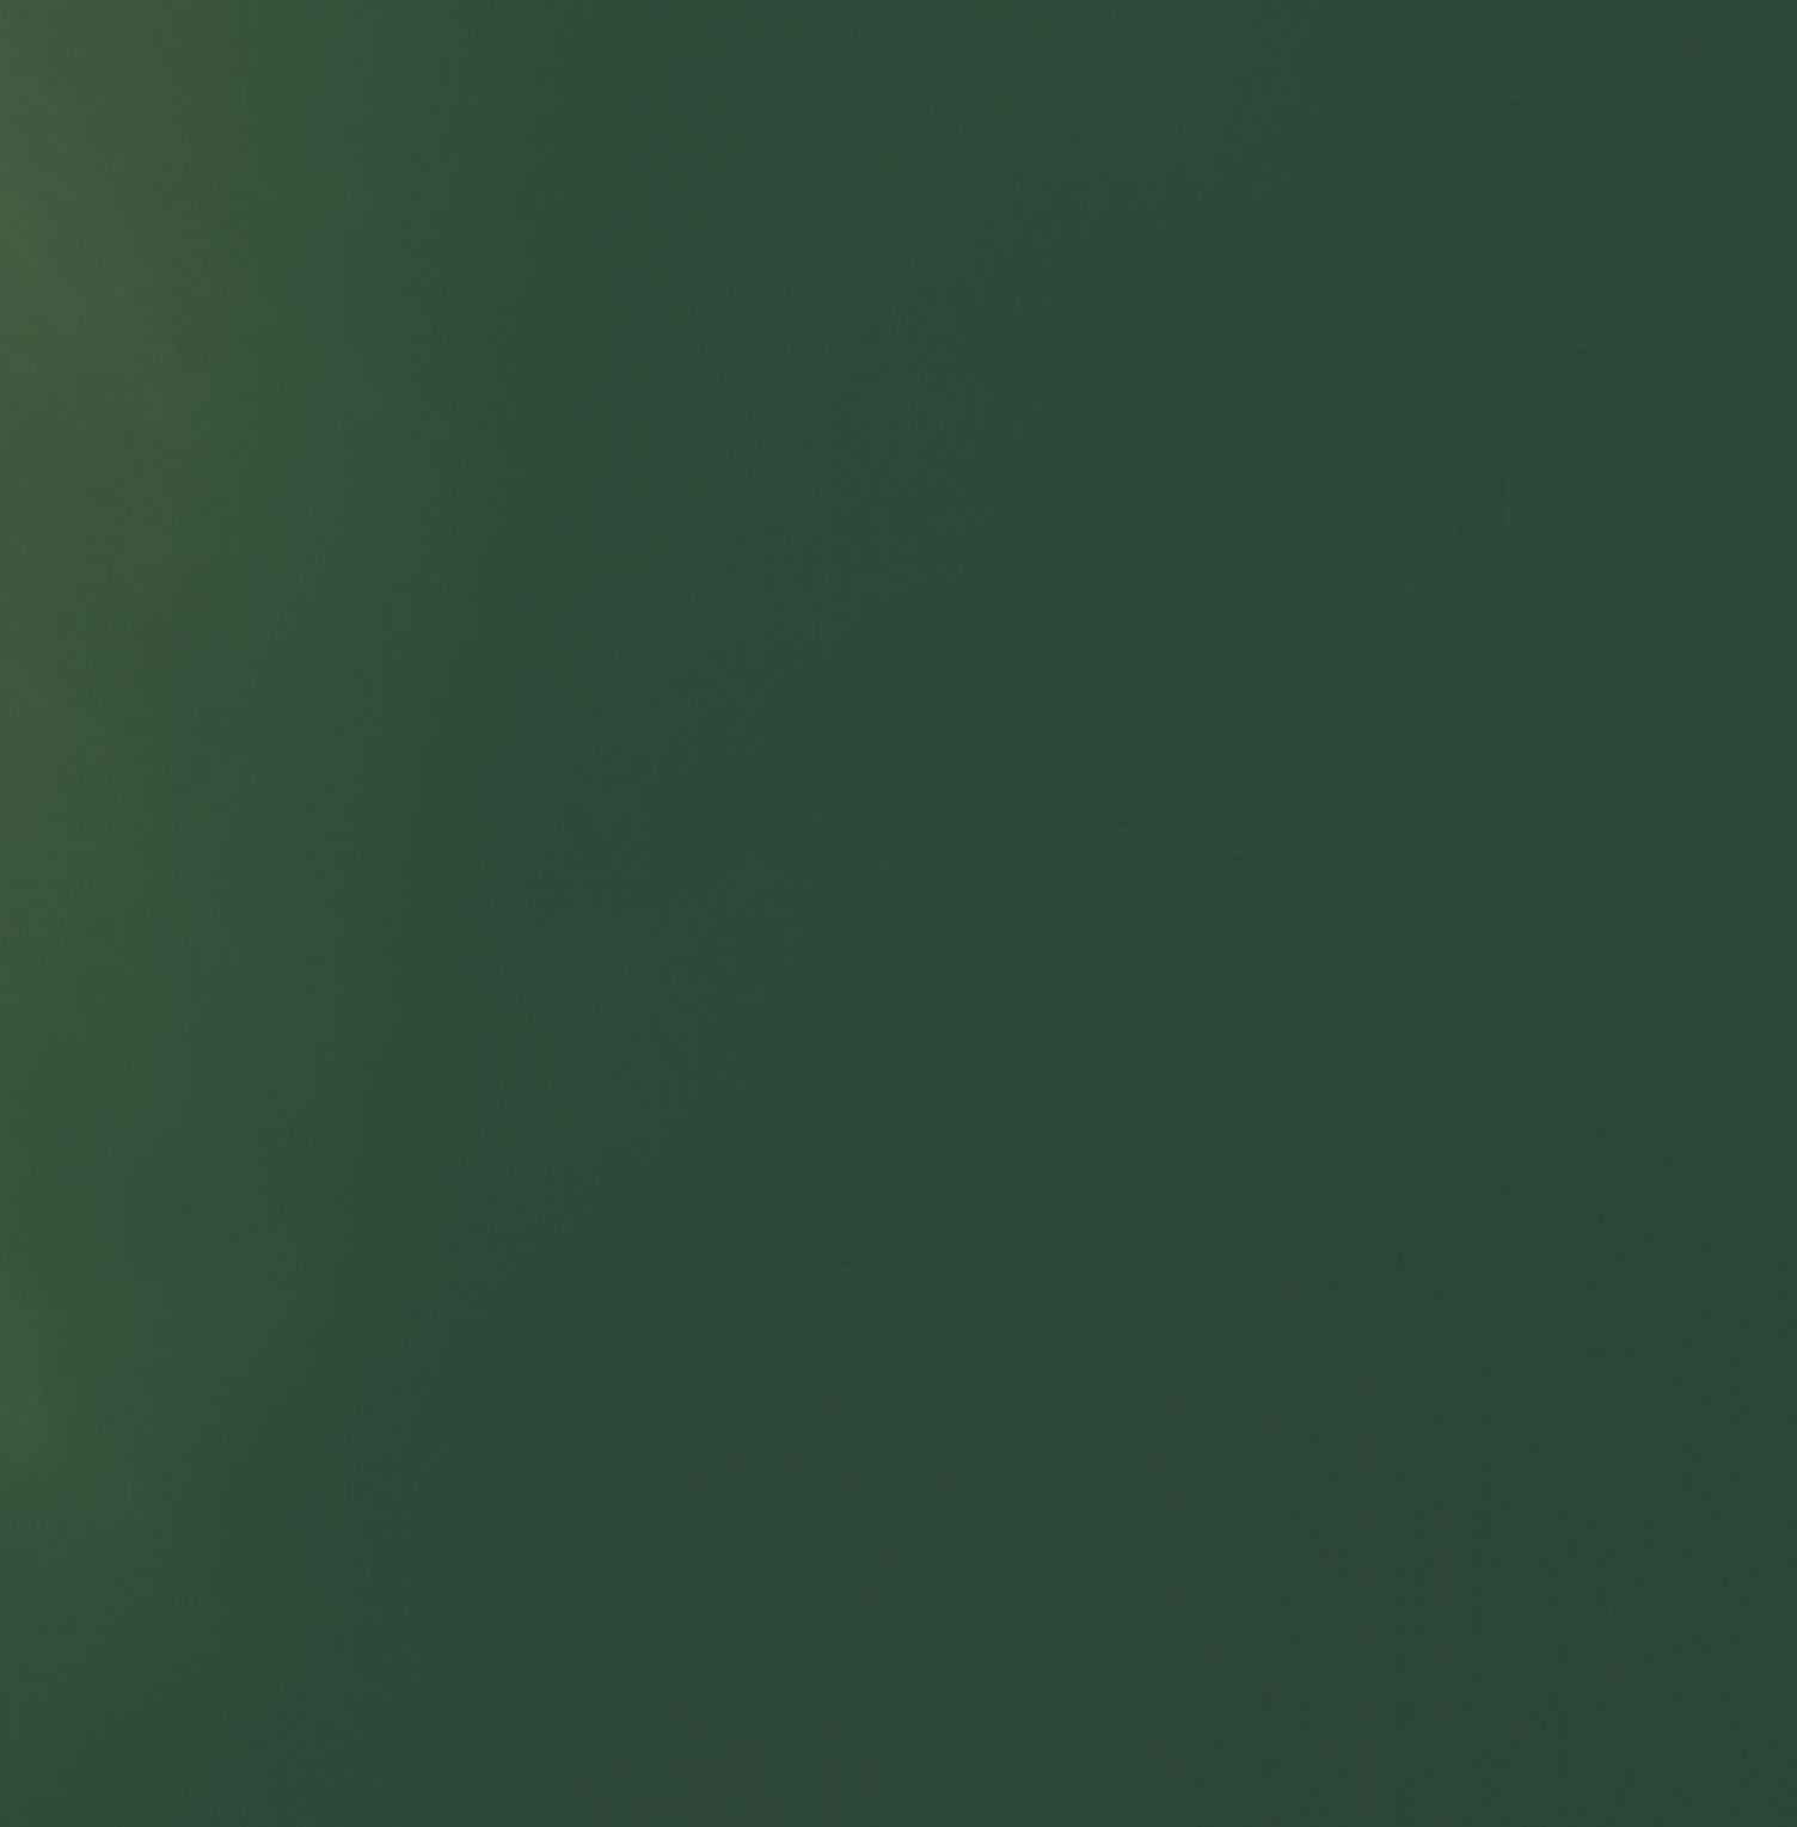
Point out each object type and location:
river: (1704, 1467)

